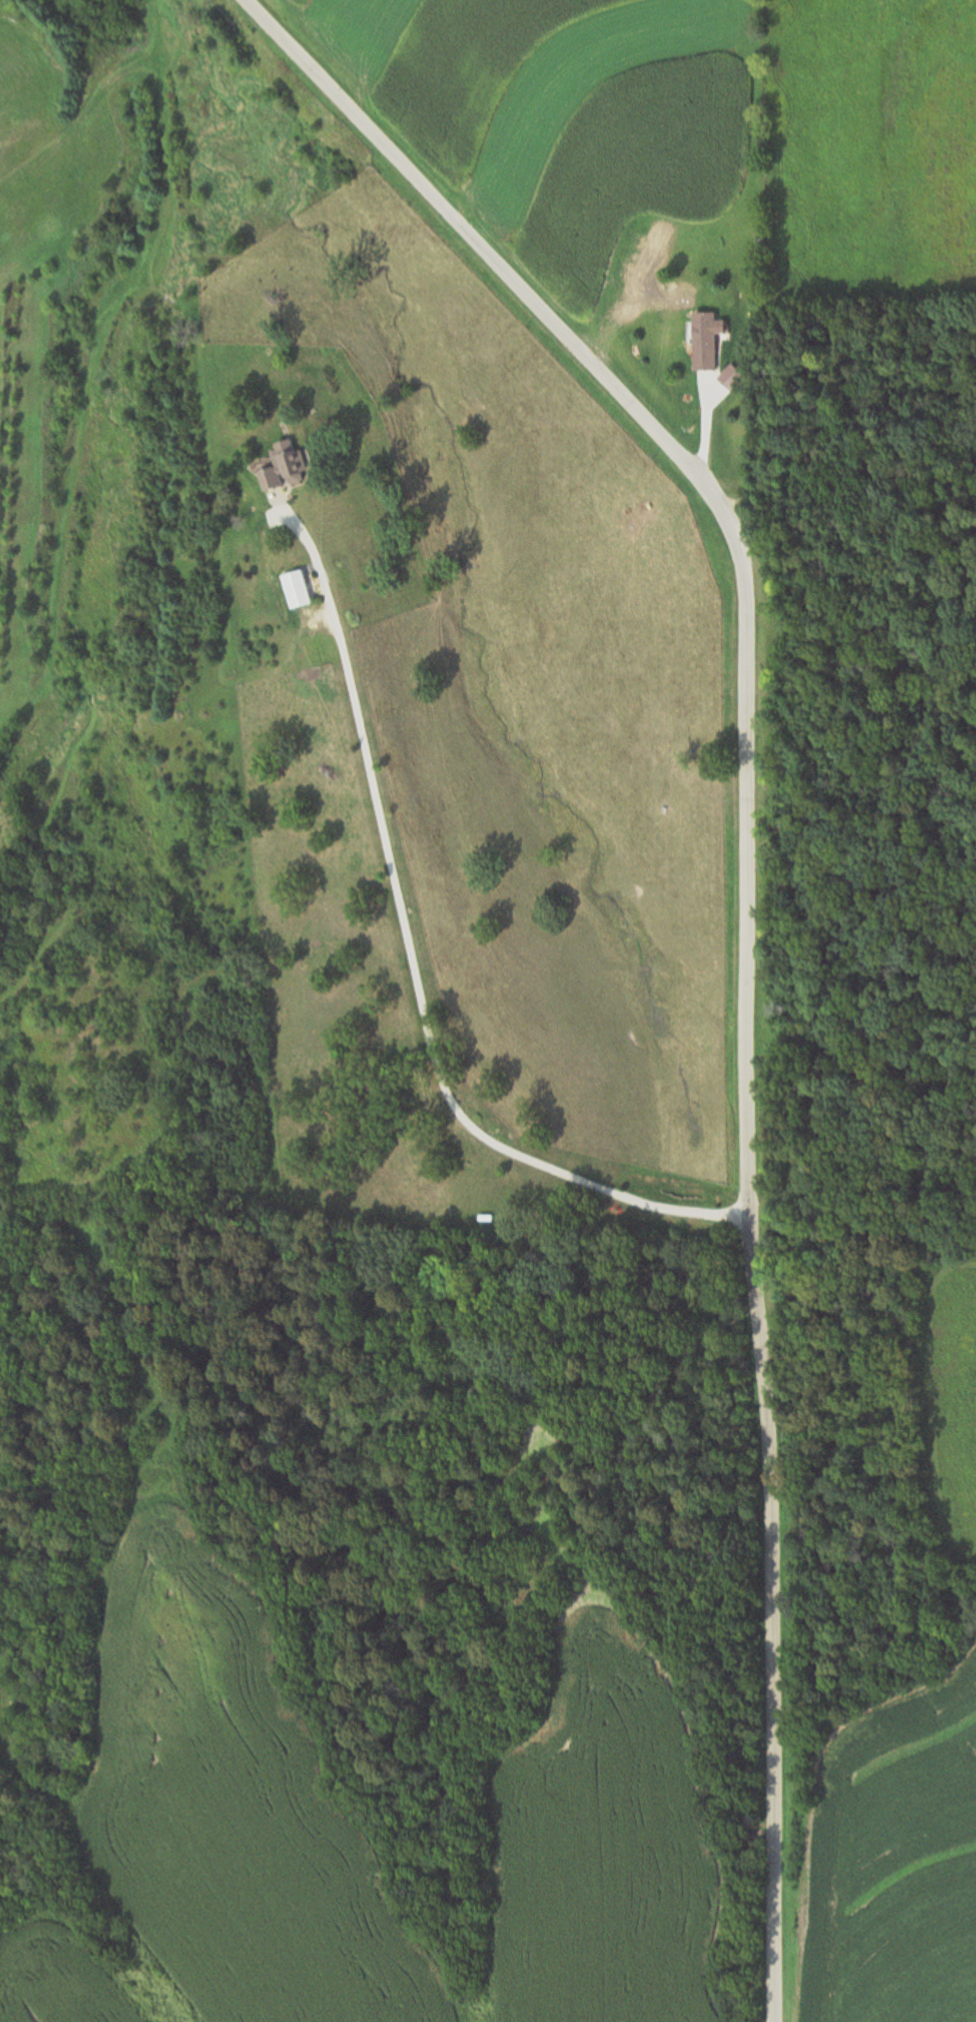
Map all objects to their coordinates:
building: (706, 340)
building: (285, 467)
building: (298, 589)
road: (750, 915)
road: (417, 981)

